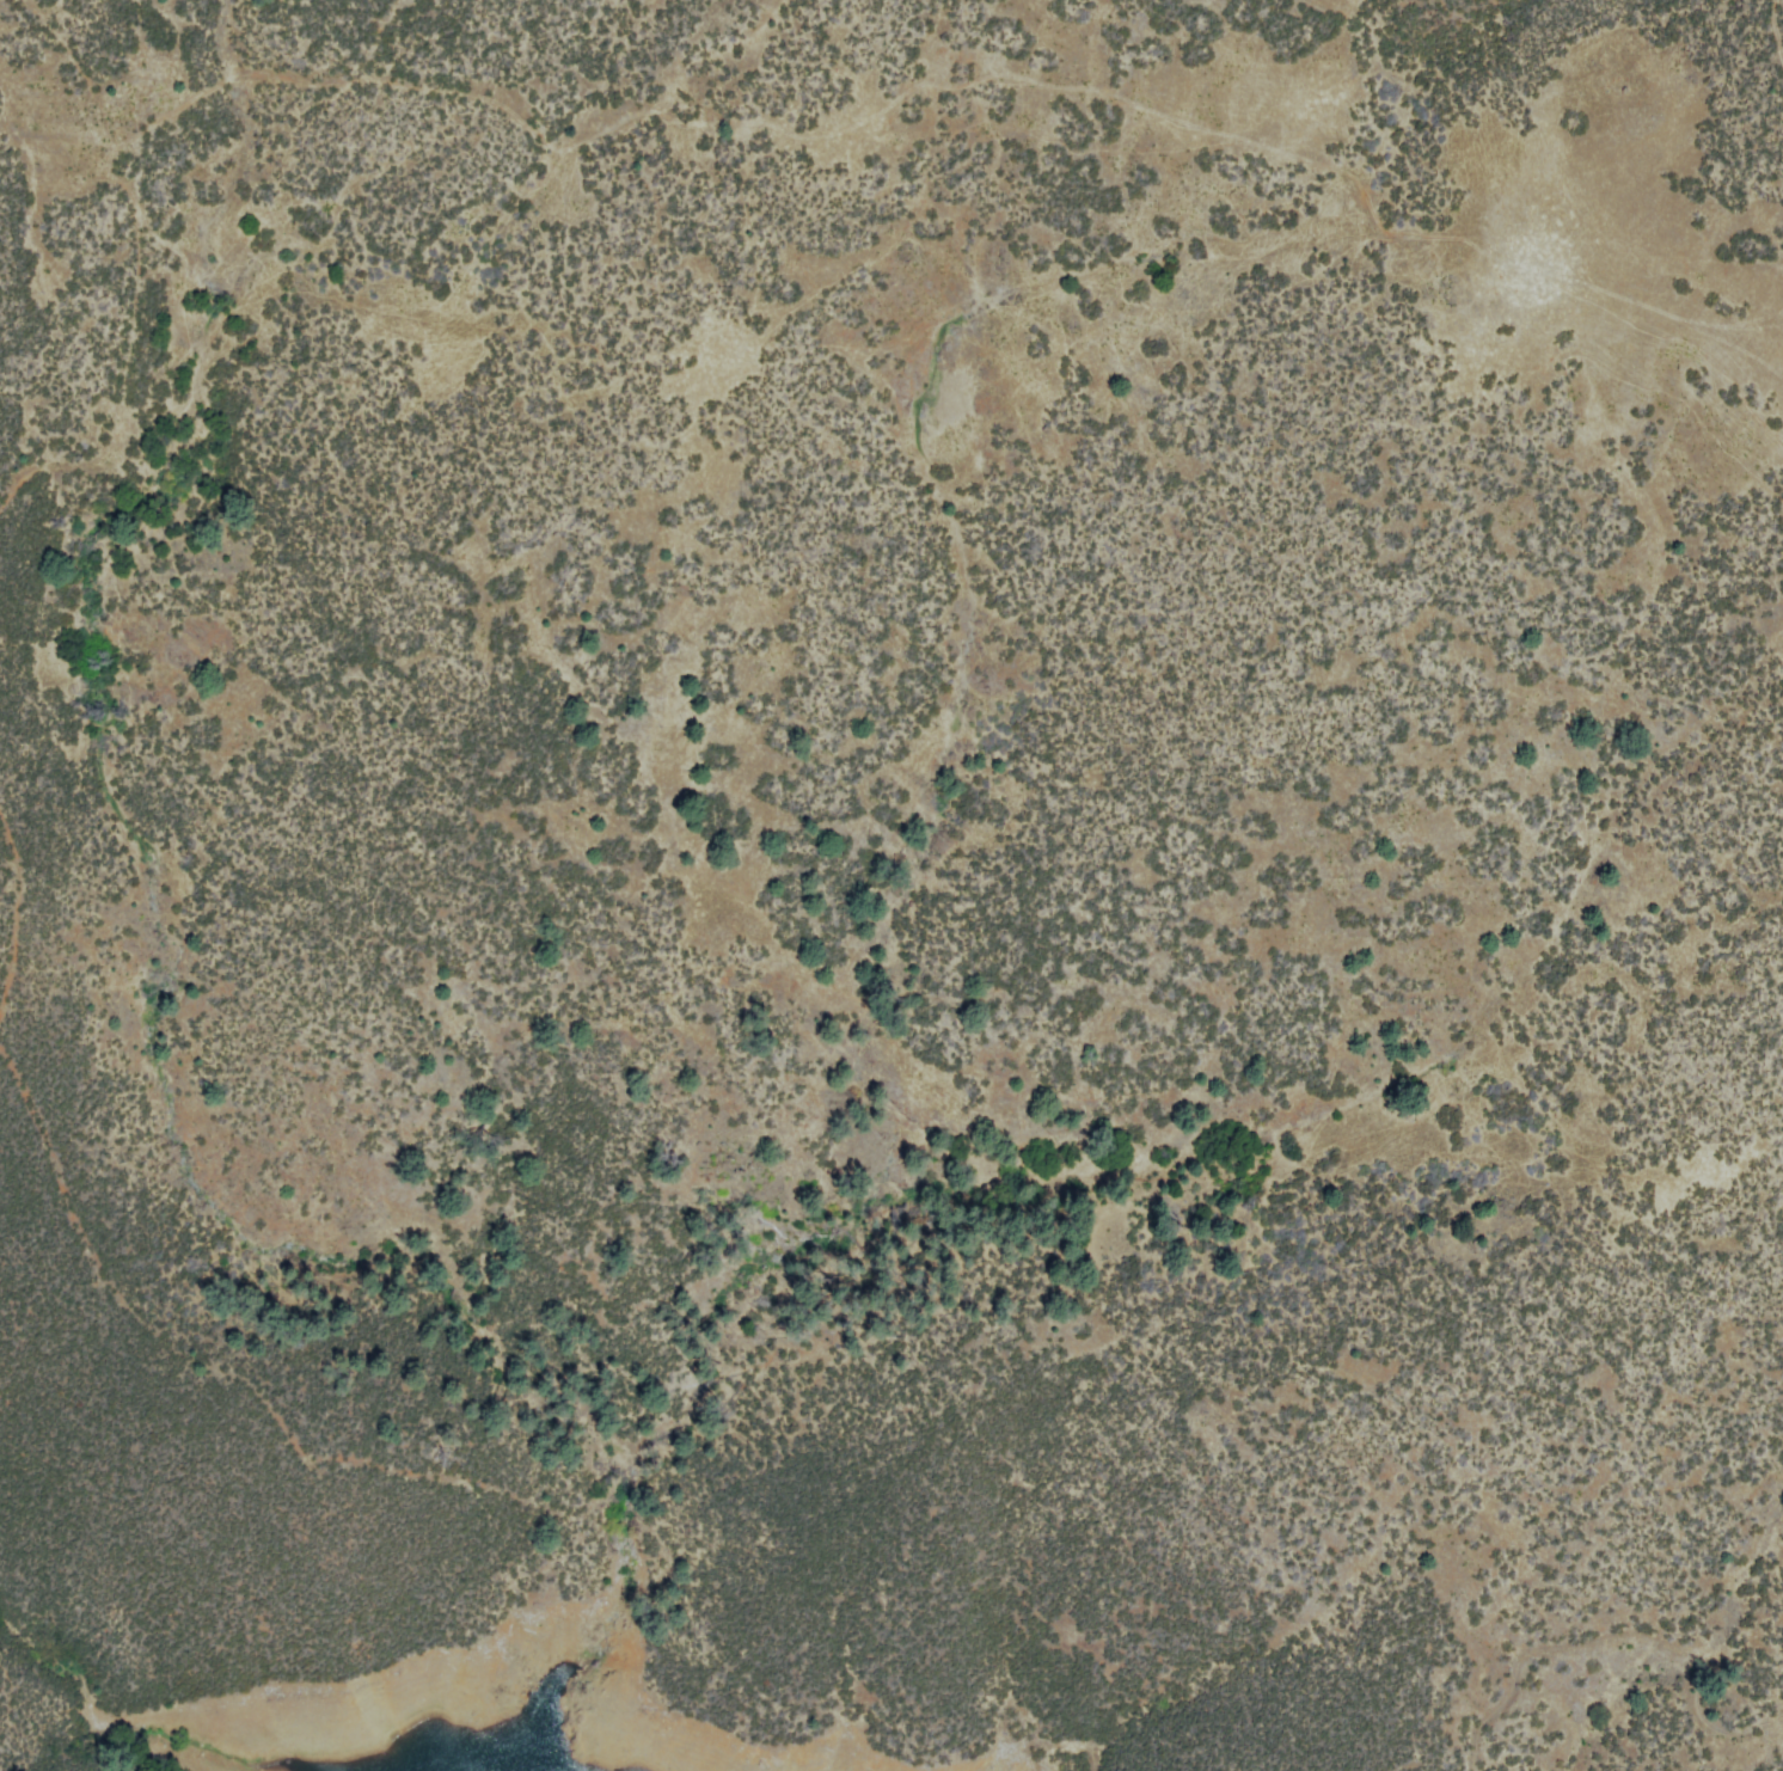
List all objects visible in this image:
road: (1620, 1635)

